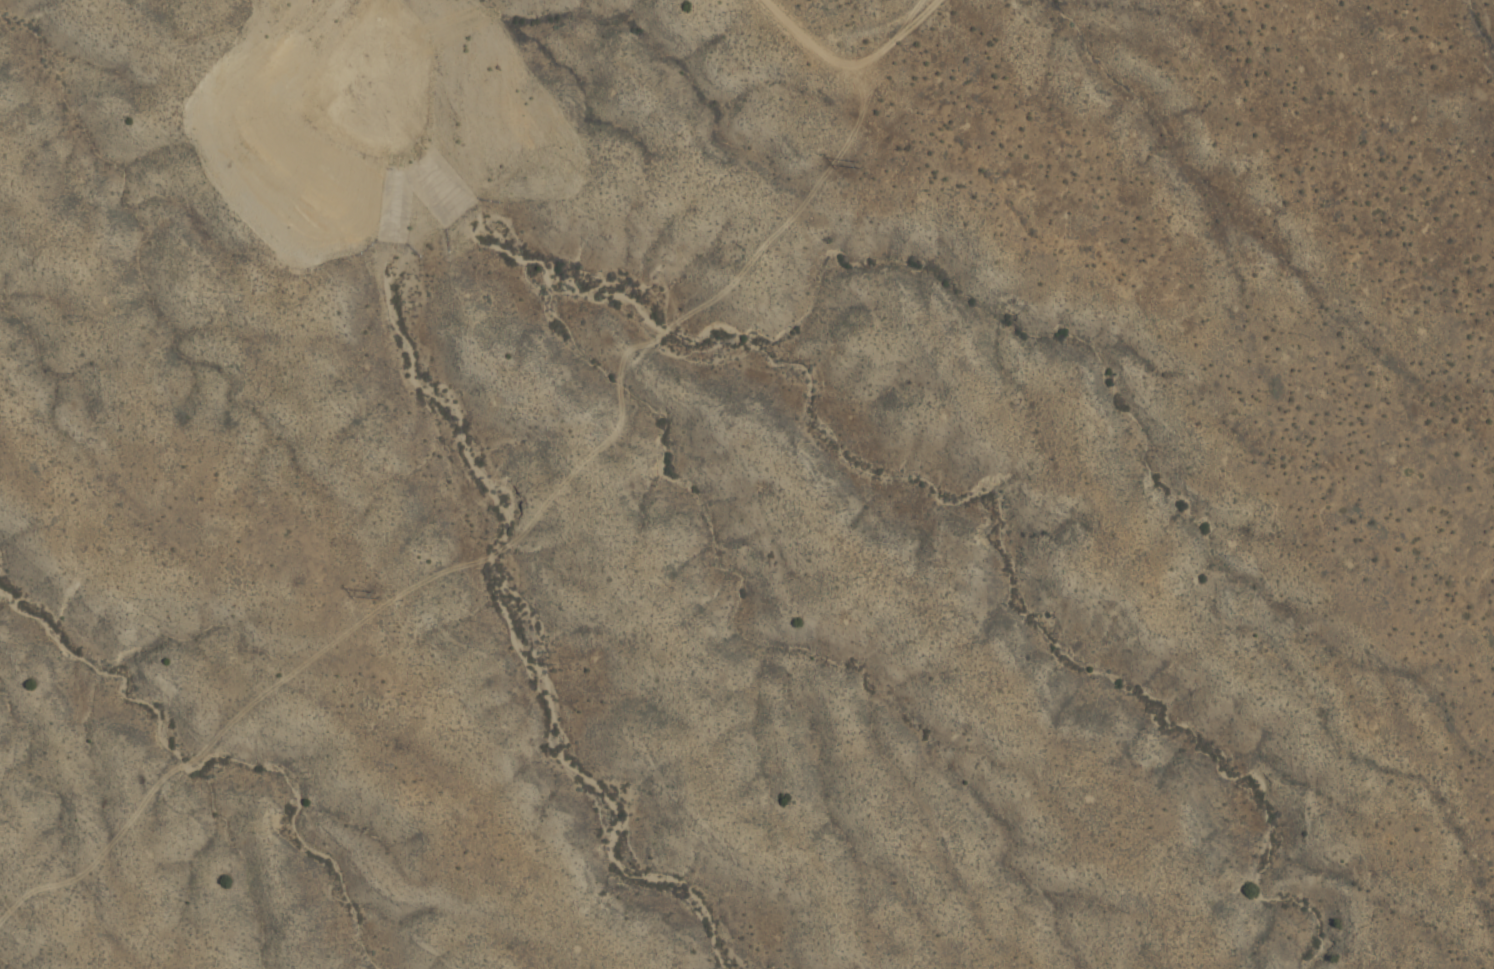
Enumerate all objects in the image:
power tower: (856, 166)
power tower: (378, 600)

